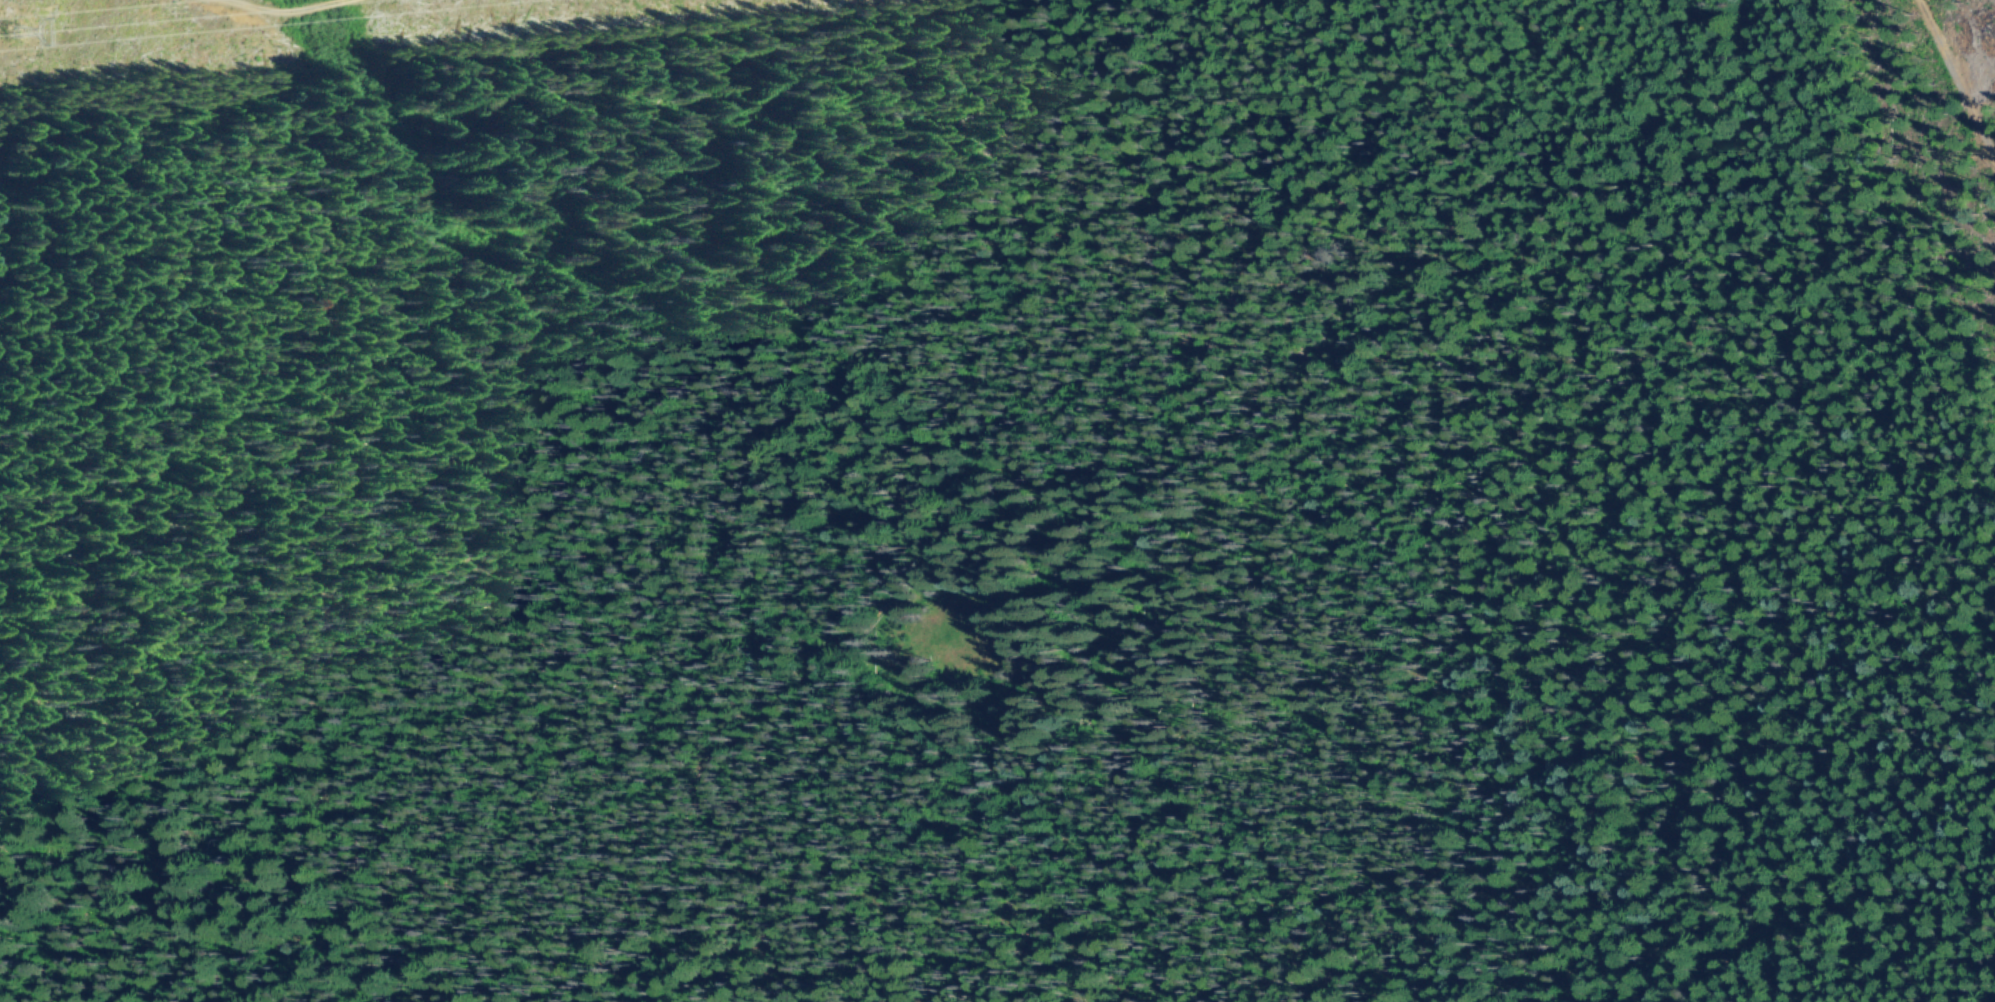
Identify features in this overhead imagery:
road: (275, 6)
power tower: (9, 28)

